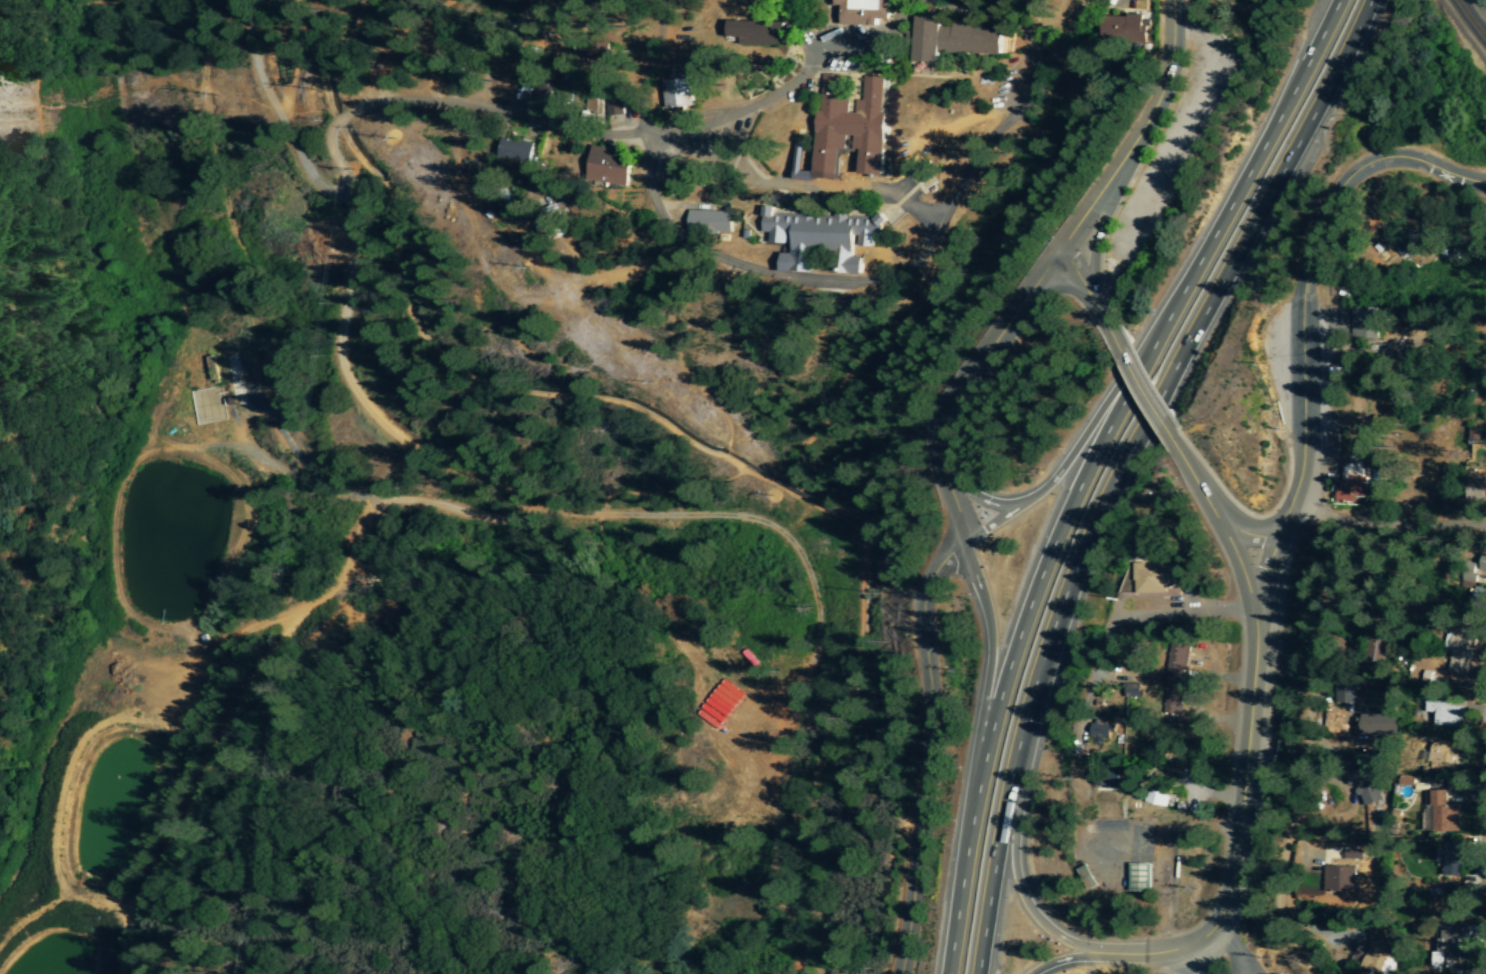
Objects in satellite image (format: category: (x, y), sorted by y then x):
road: (1170, 0)
building: (862, 11)
railway: (1471, 19)
building: (1122, 29)
building: (755, 32)
building: (953, 39)
building: (568, 83)
building: (677, 93)
road: (271, 113)
road: (734, 113)
road: (454, 114)
road: (1002, 123)
building: (849, 128)
road: (1137, 134)
building: (514, 150)
building: (607, 166)
building: (800, 173)
road: (799, 187)
road: (651, 201)
road: (343, 203)
road: (1447, 219)
building: (708, 221)
road: (1096, 234)
building: (820, 238)
road: (809, 281)
road: (1303, 281)
road: (1086, 296)
building: (1365, 323)
road: (962, 386)
road: (1142, 389)
building: (207, 405)
road: (1069, 455)
road: (1088, 465)
road: (1118, 466)
building: (1350, 483)
road: (978, 499)
road: (1386, 516)
road: (459, 521)
road: (1217, 524)
road: (1244, 534)
building: (1483, 564)
building: (1469, 576)
road: (1263, 577)
building: (1480, 598)
road: (1184, 615)
road: (989, 638)
building: (1375, 650)
building: (1461, 652)
building: (1173, 679)
building: (1447, 714)
building: (1379, 726)
building: (1101, 731)
road: (1298, 750)
road: (928, 751)
building: (1438, 753)
building: (1365, 788)
road: (1240, 790)
building: (1157, 799)
building: (1449, 860)
building: (1086, 878)
building: (1138, 878)
building: (1337, 879)
road: (1024, 903)
building: (1446, 948)
road: (1145, 954)
building: (1377, 956)
road: (1066, 960)
road: (1191, 960)

